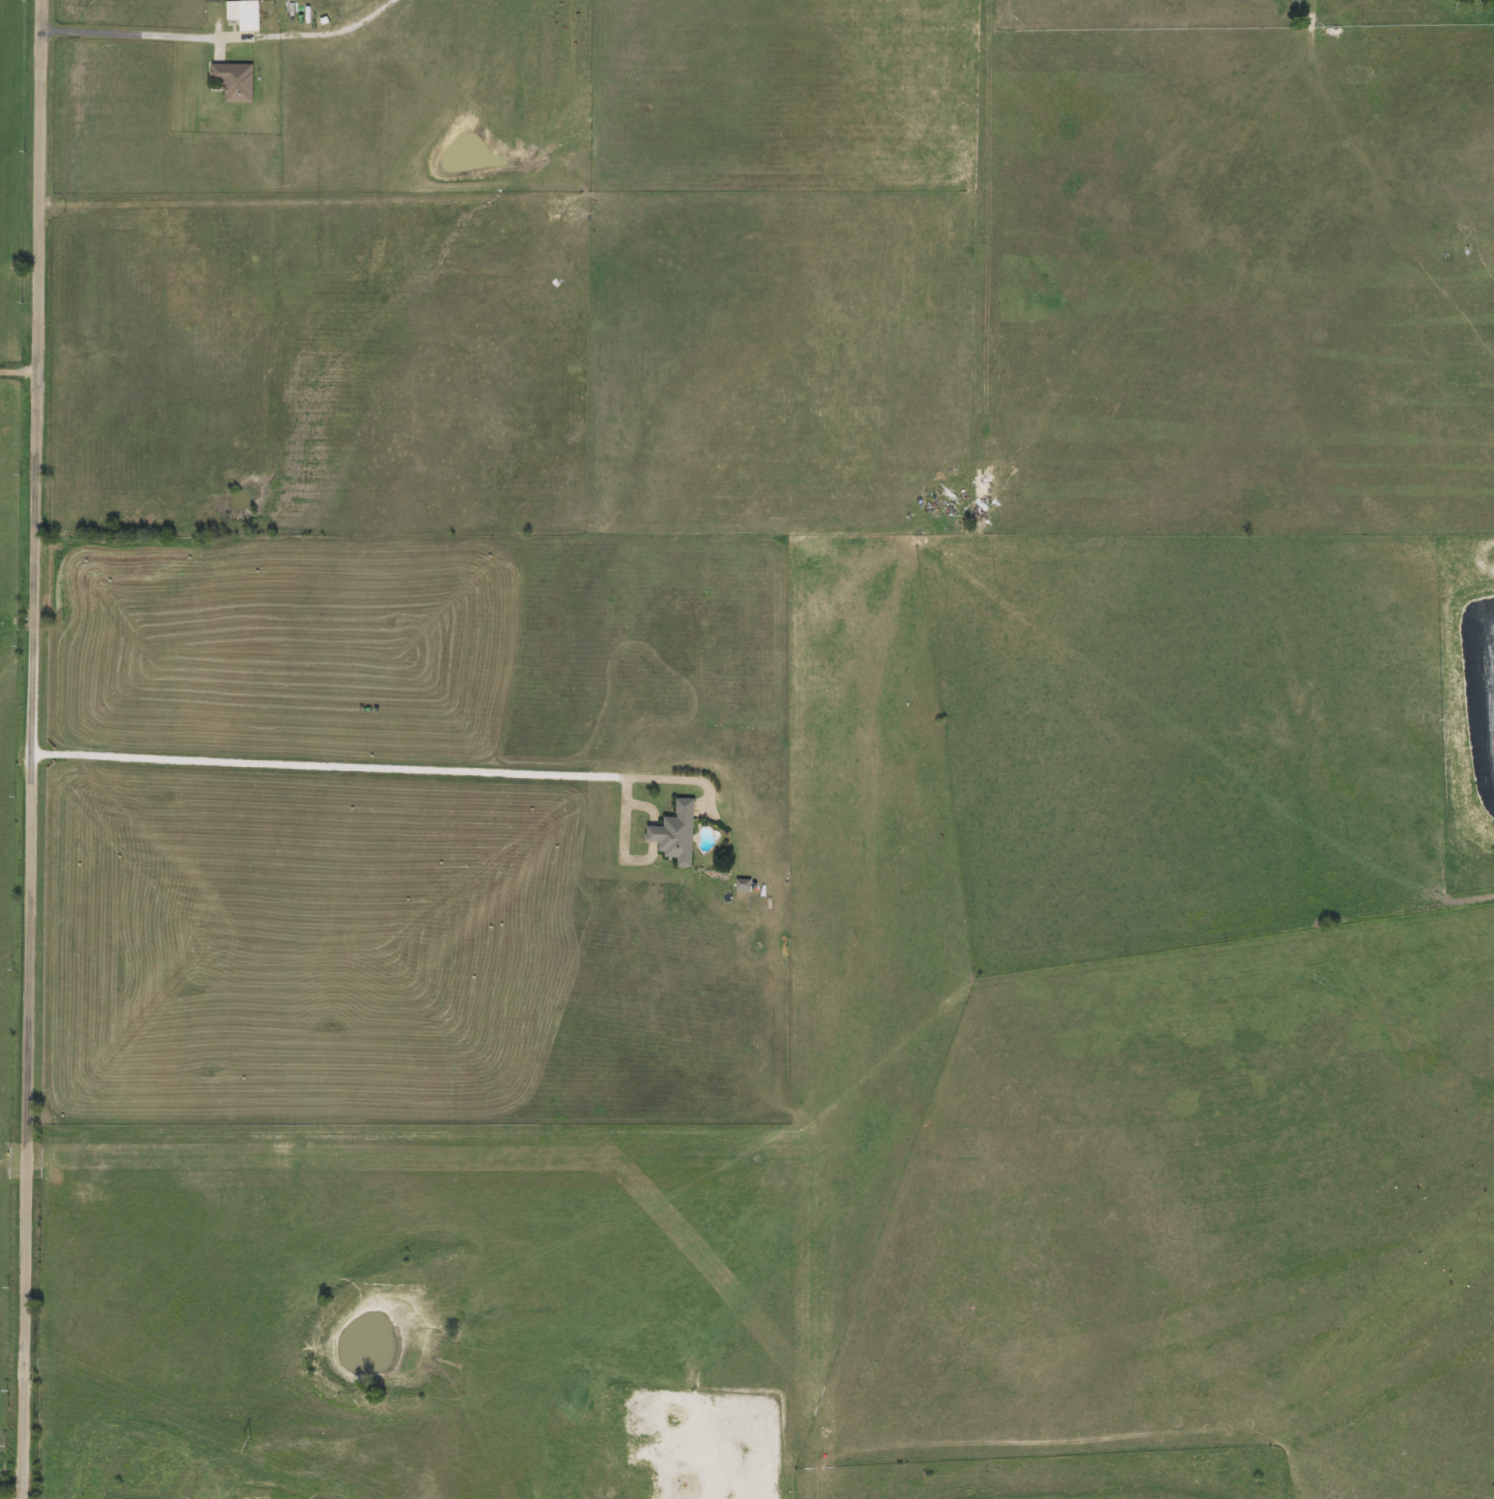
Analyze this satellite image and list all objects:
building: (240, 15)
road: (220, 37)
building: (231, 82)
road: (19, 376)
road: (38, 377)
road: (363, 769)
building: (670, 833)
road: (28, 1126)

